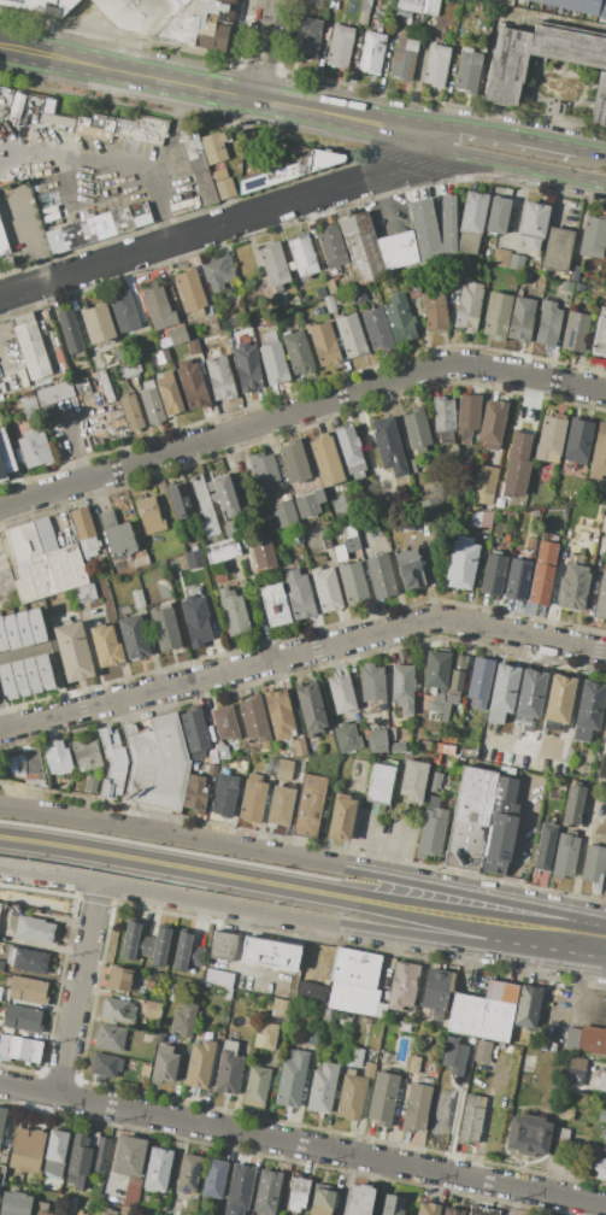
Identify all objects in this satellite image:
building: (182, 1)
building: (410, 5)
building: (41, 6)
building: (576, 6)
building: (433, 7)
building: (364, 12)
building: (137, 13)
building: (198, 24)
building: (308, 39)
building: (340, 46)
road: (264, 48)
building: (371, 52)
building: (404, 59)
building: (507, 64)
building: (436, 65)
building: (467, 71)
road: (207, 88)
building: (599, 100)
building: (118, 124)
road: (495, 130)
building: (214, 143)
road: (592, 149)
road: (401, 159)
road: (112, 162)
road: (507, 165)
building: (196, 166)
building: (289, 169)
building: (223, 183)
road: (558, 199)
road: (384, 200)
road: (516, 206)
building: (498, 216)
building: (471, 221)
building: (447, 223)
building: (533, 223)
building: (424, 227)
building: (89, 229)
road: (27, 234)
road: (189, 237)
building: (593, 237)
building: (2, 242)
building: (331, 246)
building: (361, 247)
building: (555, 248)
building: (398, 250)
building: (302, 254)
building: (499, 258)
building: (516, 263)
building: (273, 265)
building: (218, 271)
building: (573, 272)
building: (454, 280)
building: (513, 283)
building: (566, 286)
building: (578, 287)
building: (412, 289)
building: (190, 292)
building: (330, 303)
building: (157, 306)
building: (469, 306)
building: (434, 310)
building: (602, 310)
building: (124, 311)
building: (496, 315)
building: (522, 317)
building: (400, 319)
building: (96, 323)
building: (213, 323)
building: (548, 323)
building: (376, 329)
building: (69, 331)
building: (575, 331)
building: (349, 335)
building: (177, 336)
building: (599, 337)
building: (324, 344)
building: (31, 345)
building: (194, 347)
building: (298, 352)
building: (161, 357)
building: (273, 360)
road: (1, 363)
building: (247, 368)
building: (219, 376)
building: (193, 385)
building: (105, 386)
building: (54, 393)
building: (169, 394)
building: (151, 404)
building: (28, 405)
building: (131, 412)
road: (300, 412)
building: (467, 417)
building: (443, 418)
building: (492, 424)
building: (417, 429)
building: (551, 439)
building: (578, 439)
road: (72, 444)
building: (388, 446)
building: (34, 448)
building: (351, 452)
building: (599, 454)
building: (5, 459)
building: (326, 459)
building: (518, 460)
building: (293, 462)
building: (264, 470)
building: (484, 485)
building: (284, 492)
building: (223, 494)
building: (513, 500)
building: (176, 501)
building: (499, 503)
building: (308, 504)
building: (433, 505)
building: (205, 507)
building: (535, 513)
building: (149, 515)
building: (284, 515)
building: (481, 518)
building: (604, 524)
building: (426, 527)
building: (83, 529)
building: (229, 529)
building: (352, 532)
building: (116, 535)
building: (296, 536)
building: (31, 539)
building: (326, 542)
building: (531, 544)
building: (222, 550)
building: (263, 553)
building: (194, 559)
building: (140, 562)
building: (460, 564)
building: (408, 569)
building: (543, 573)
building: (49, 574)
building: (218, 574)
building: (381, 575)
building: (493, 575)
building: (517, 580)
building: (353, 582)
building: (573, 587)
building: (325, 588)
building: (84, 593)
building: (299, 594)
building: (137, 598)
building: (601, 599)
building: (273, 605)
building: (233, 611)
building: (195, 620)
building: (36, 624)
building: (23, 628)
building: (164, 628)
building: (11, 632)
building: (2, 636)
building: (134, 636)
building: (105, 645)
building: (72, 651)
road: (22, 652)
road: (301, 652)
building: (435, 670)
building: (43, 671)
building: (31, 675)
building: (19, 677)
building: (455, 679)
building: (7, 682)
building: (479, 682)
building: (372, 683)
building: (402, 687)
building: (502, 692)
building: (342, 693)
building: (530, 693)
building: (559, 699)
building: (435, 706)
building: (311, 708)
building: (588, 710)
building: (278, 712)
road: (2, 718)
building: (254, 718)
building: (225, 722)
building: (194, 733)
building: (347, 738)
building: (377, 740)
building: (605, 741)
building: (446, 744)
building: (299, 747)
building: (398, 747)
building: (222, 750)
building: (86, 753)
building: (212, 757)
building: (57, 758)
building: (502, 758)
building: (112, 762)
building: (157, 763)
building: (14, 764)
building: (270, 767)
building: (242, 768)
building: (601, 768)
building: (284, 769)
building: (211, 771)
building: (413, 780)
building: (381, 782)
building: (92, 783)
building: (195, 793)
building: (224, 794)
building: (252, 799)
building: (572, 805)
building: (280, 806)
building: (310, 806)
building: (342, 817)
building: (470, 818)
building: (500, 827)
road: (382, 832)
building: (431, 832)
road: (170, 838)
road: (516, 839)
building: (546, 847)
building: (565, 856)
road: (169, 858)
building: (592, 864)
road: (166, 875)
road: (458, 892)
building: (0, 904)
road: (455, 904)
road: (301, 918)
road: (590, 920)
building: (31, 928)
road: (470, 932)
building: (145, 944)
building: (223, 946)
building: (187, 952)
building: (269, 953)
building: (27, 959)
road: (235, 961)
building: (217, 976)
building: (119, 979)
building: (354, 982)
building: (149, 985)
building: (205, 986)
building: (402, 986)
road: (76, 988)
building: (0, 990)
building: (27, 991)
building: (311, 992)
building: (436, 992)
building: (226, 994)
building: (170, 997)
road: (577, 1000)
building: (528, 1005)
building: (282, 1009)
building: (153, 1010)
building: (117, 1011)
building: (483, 1011)
building: (328, 1016)
building: (22, 1019)
building: (183, 1019)
road: (605, 1019)
building: (345, 1021)
building: (366, 1032)
building: (266, 1037)
building: (110, 1038)
building: (587, 1038)
building: (313, 1039)
building: (19, 1047)
building: (482, 1051)
building: (353, 1057)
building: (454, 1057)
building: (164, 1064)
building: (200, 1064)
building: (413, 1064)
building: (105, 1066)
building: (228, 1068)
building: (575, 1068)
building: (369, 1070)
building: (290, 1080)
building: (601, 1081)
building: (257, 1086)
building: (322, 1087)
building: (349, 1096)
building: (382, 1098)
building: (416, 1108)
building: (565, 1114)
building: (601, 1115)
building: (1, 1119)
building: (471, 1119)
building: (528, 1134)
building: (560, 1138)
building: (604, 1139)
road: (302, 1144)
building: (27, 1149)
building: (55, 1152)
building: (100, 1154)
building: (4, 1156)
building: (129, 1156)
building: (77, 1161)
building: (560, 1164)
building: (599, 1167)
building: (1, 1170)
building: (158, 1170)
building: (188, 1173)
building: (214, 1179)
building: (239, 1190)
building: (266, 1191)
building: (131, 1192)
building: (298, 1193)
building: (358, 1199)
building: (320, 1201)
road: (512, 1201)
building: (151, 1202)
building: (13, 1203)
building: (393, 1204)
building: (72, 1205)
building: (41, 1208)
building: (428, 1209)
building: (479, 1210)
building: (108, 1211)
building: (452, 1211)

